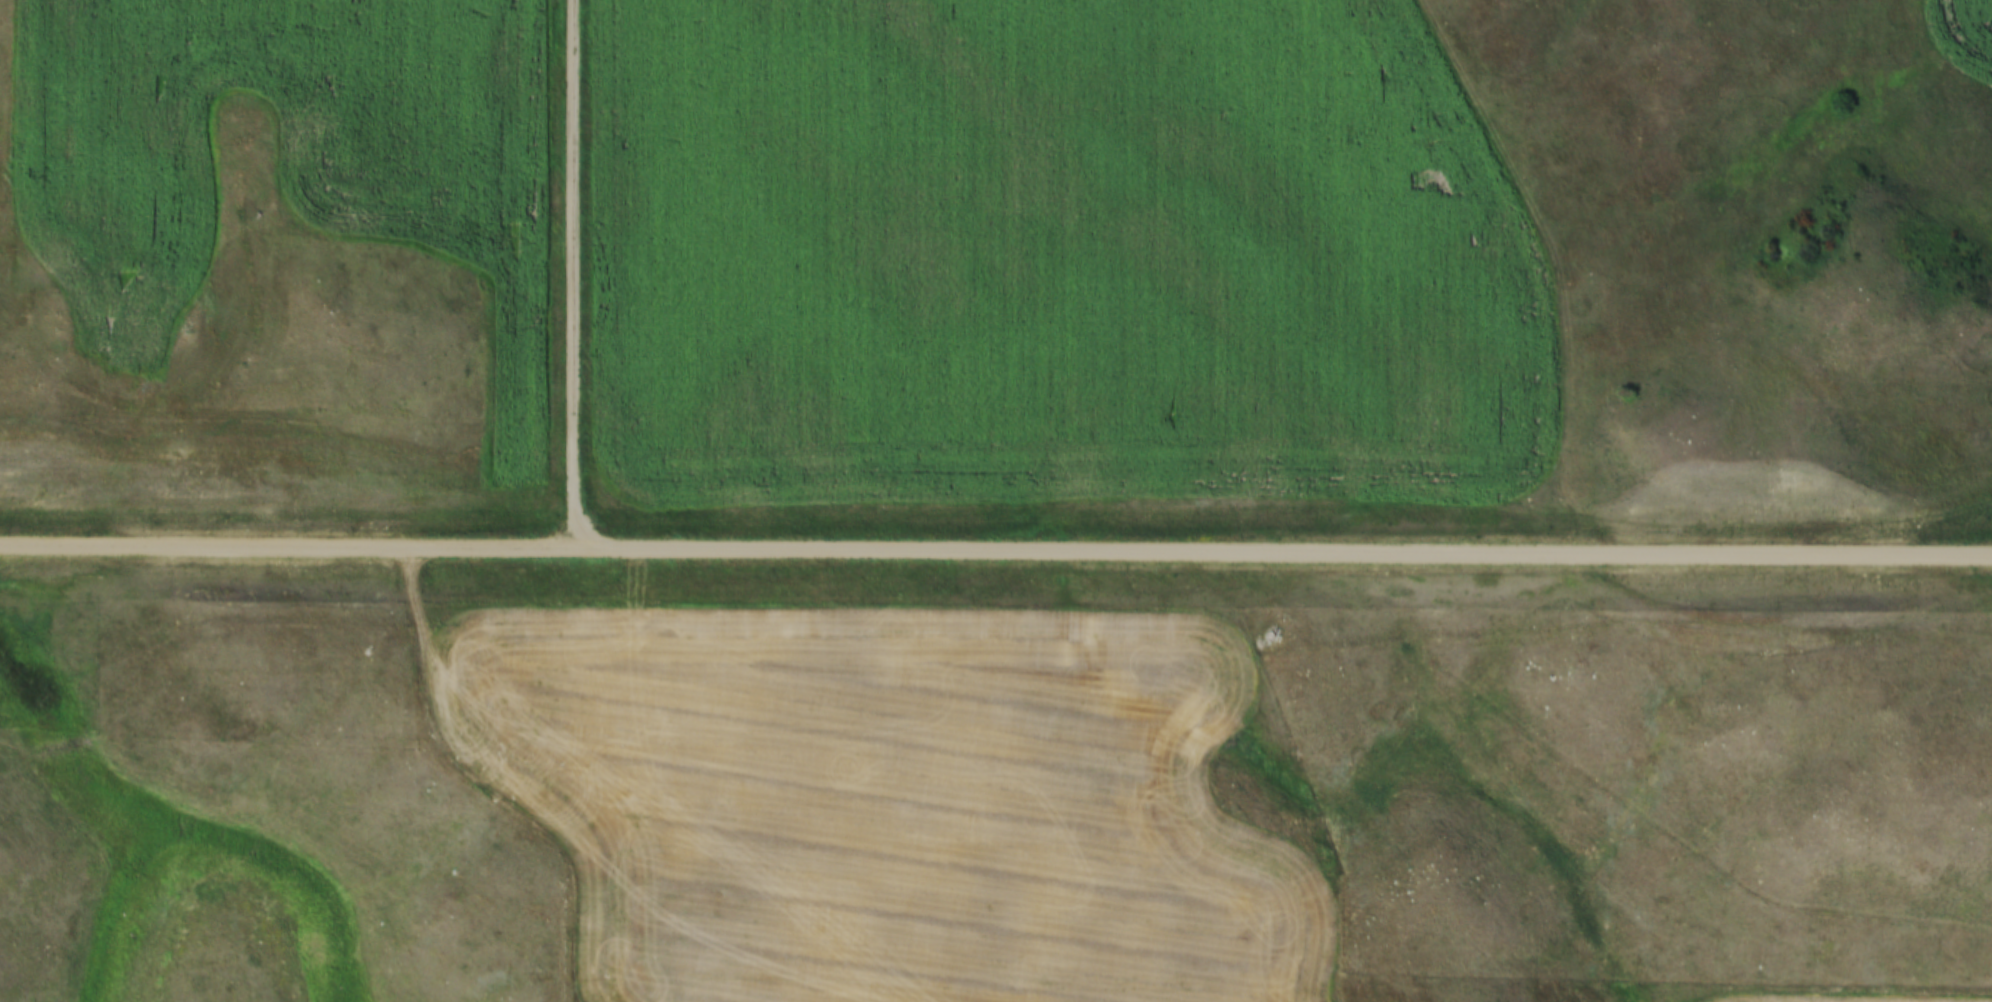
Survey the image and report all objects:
road: (574, 275)
road: (1935, 523)
road: (996, 548)
road: (489, 784)

